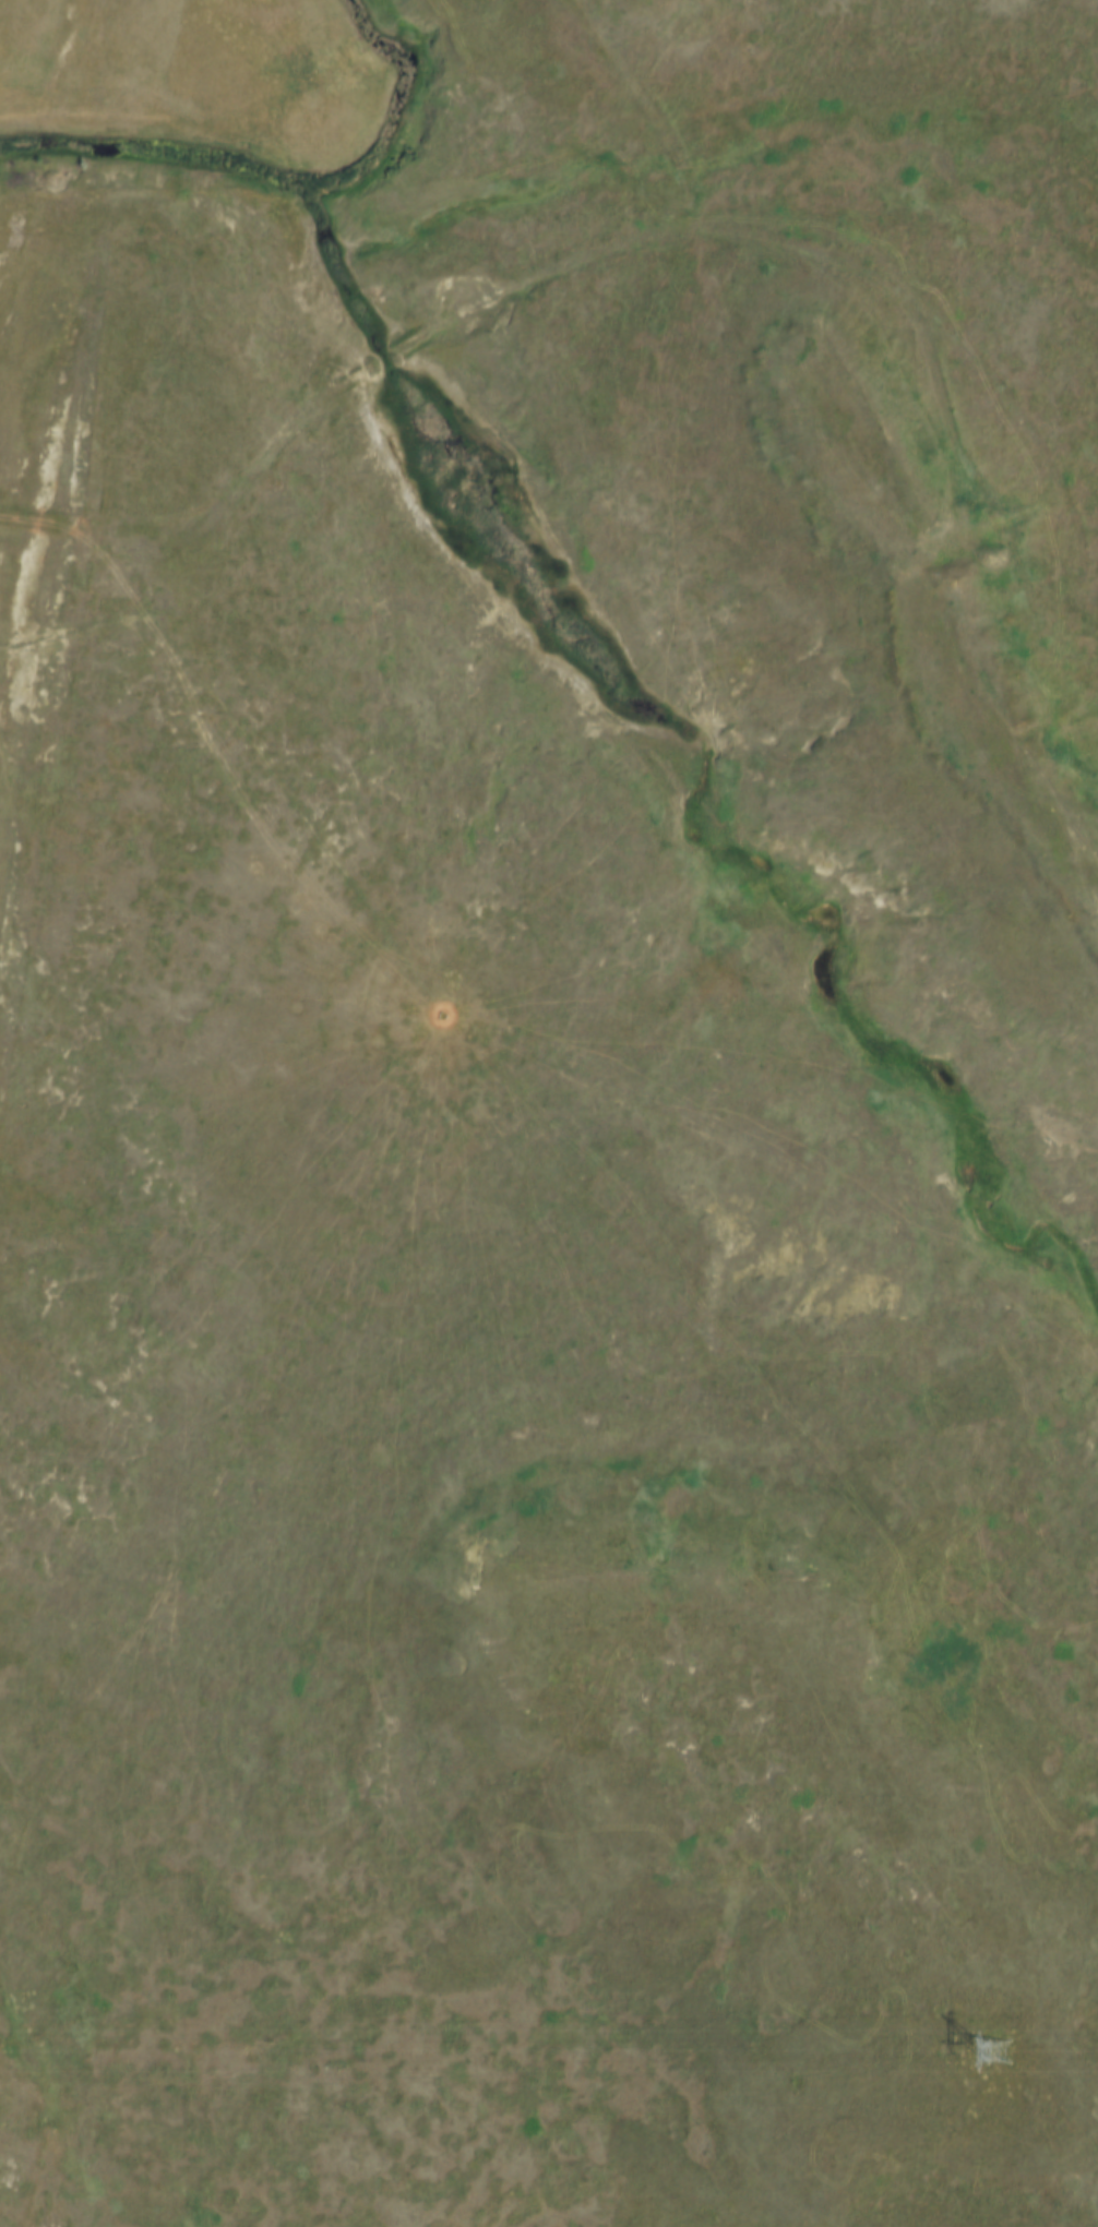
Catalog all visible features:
power tower: (991, 2059)

